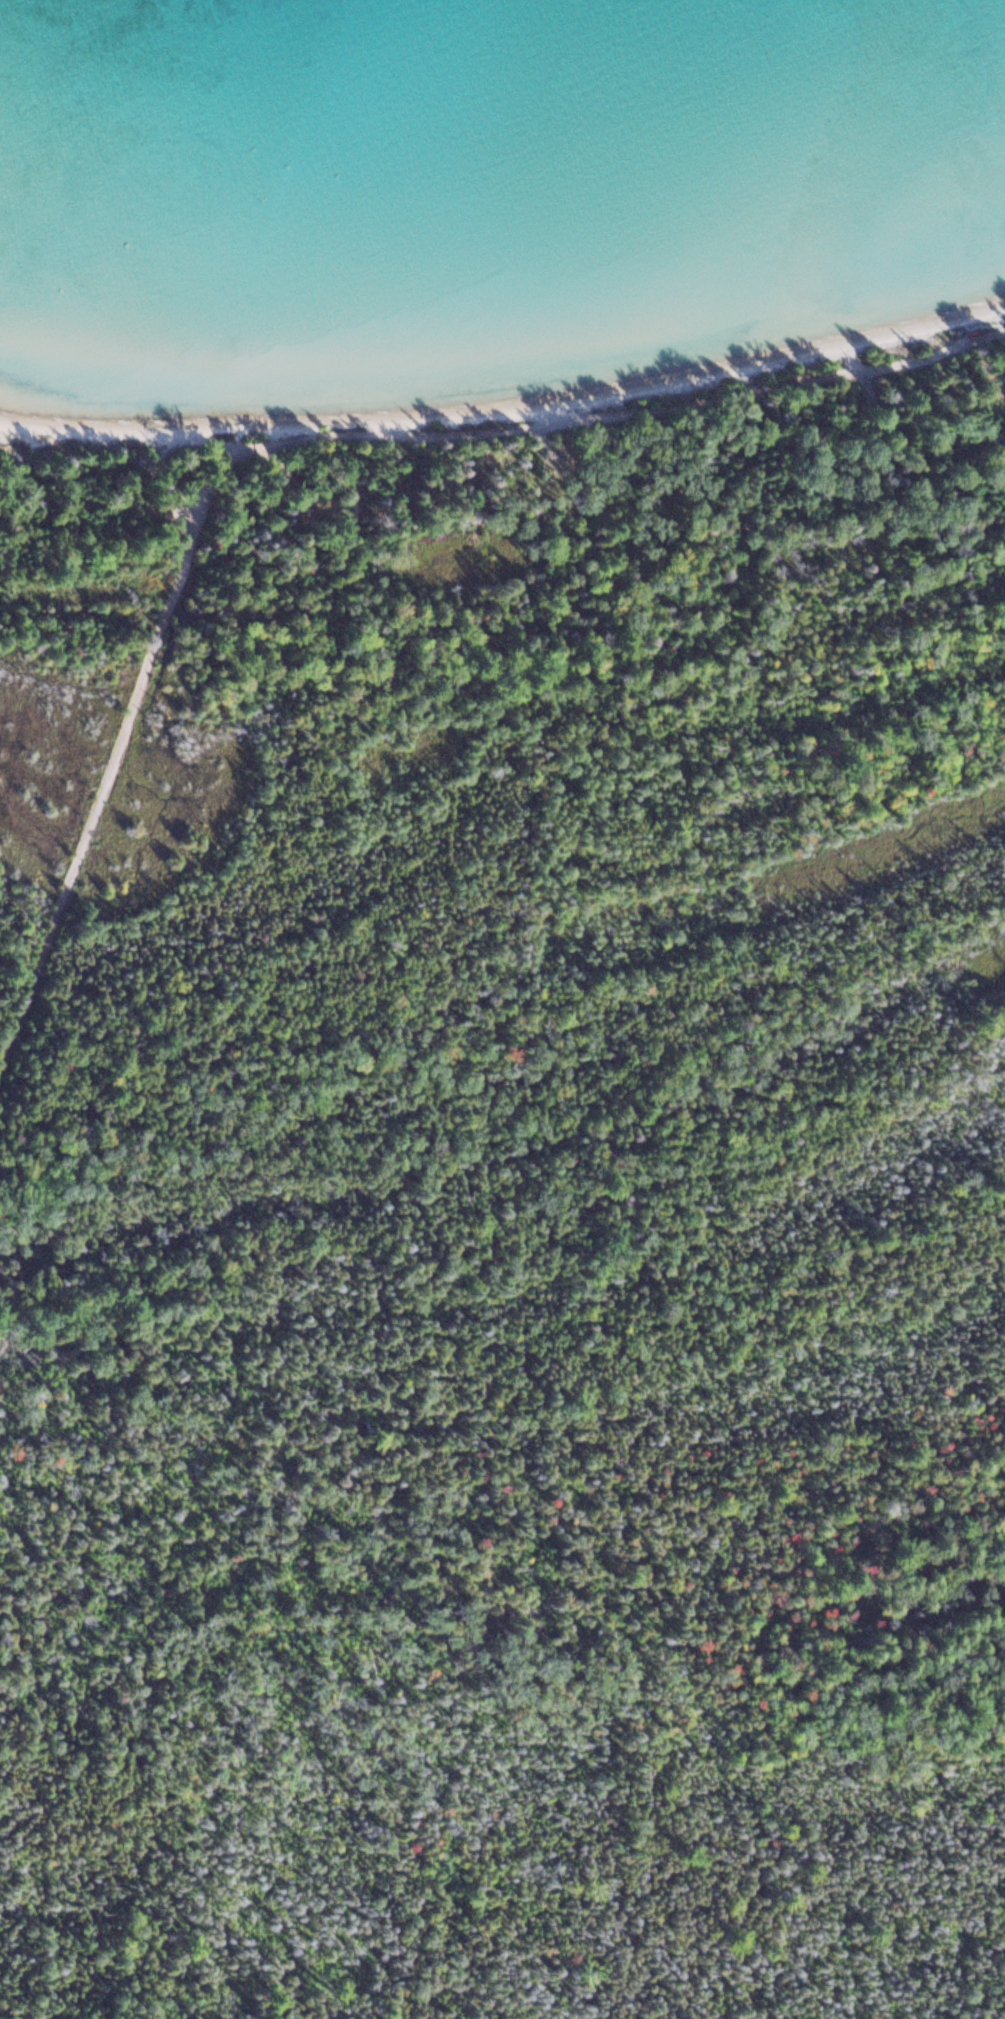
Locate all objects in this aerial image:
road: (596, 446)
road: (95, 804)

